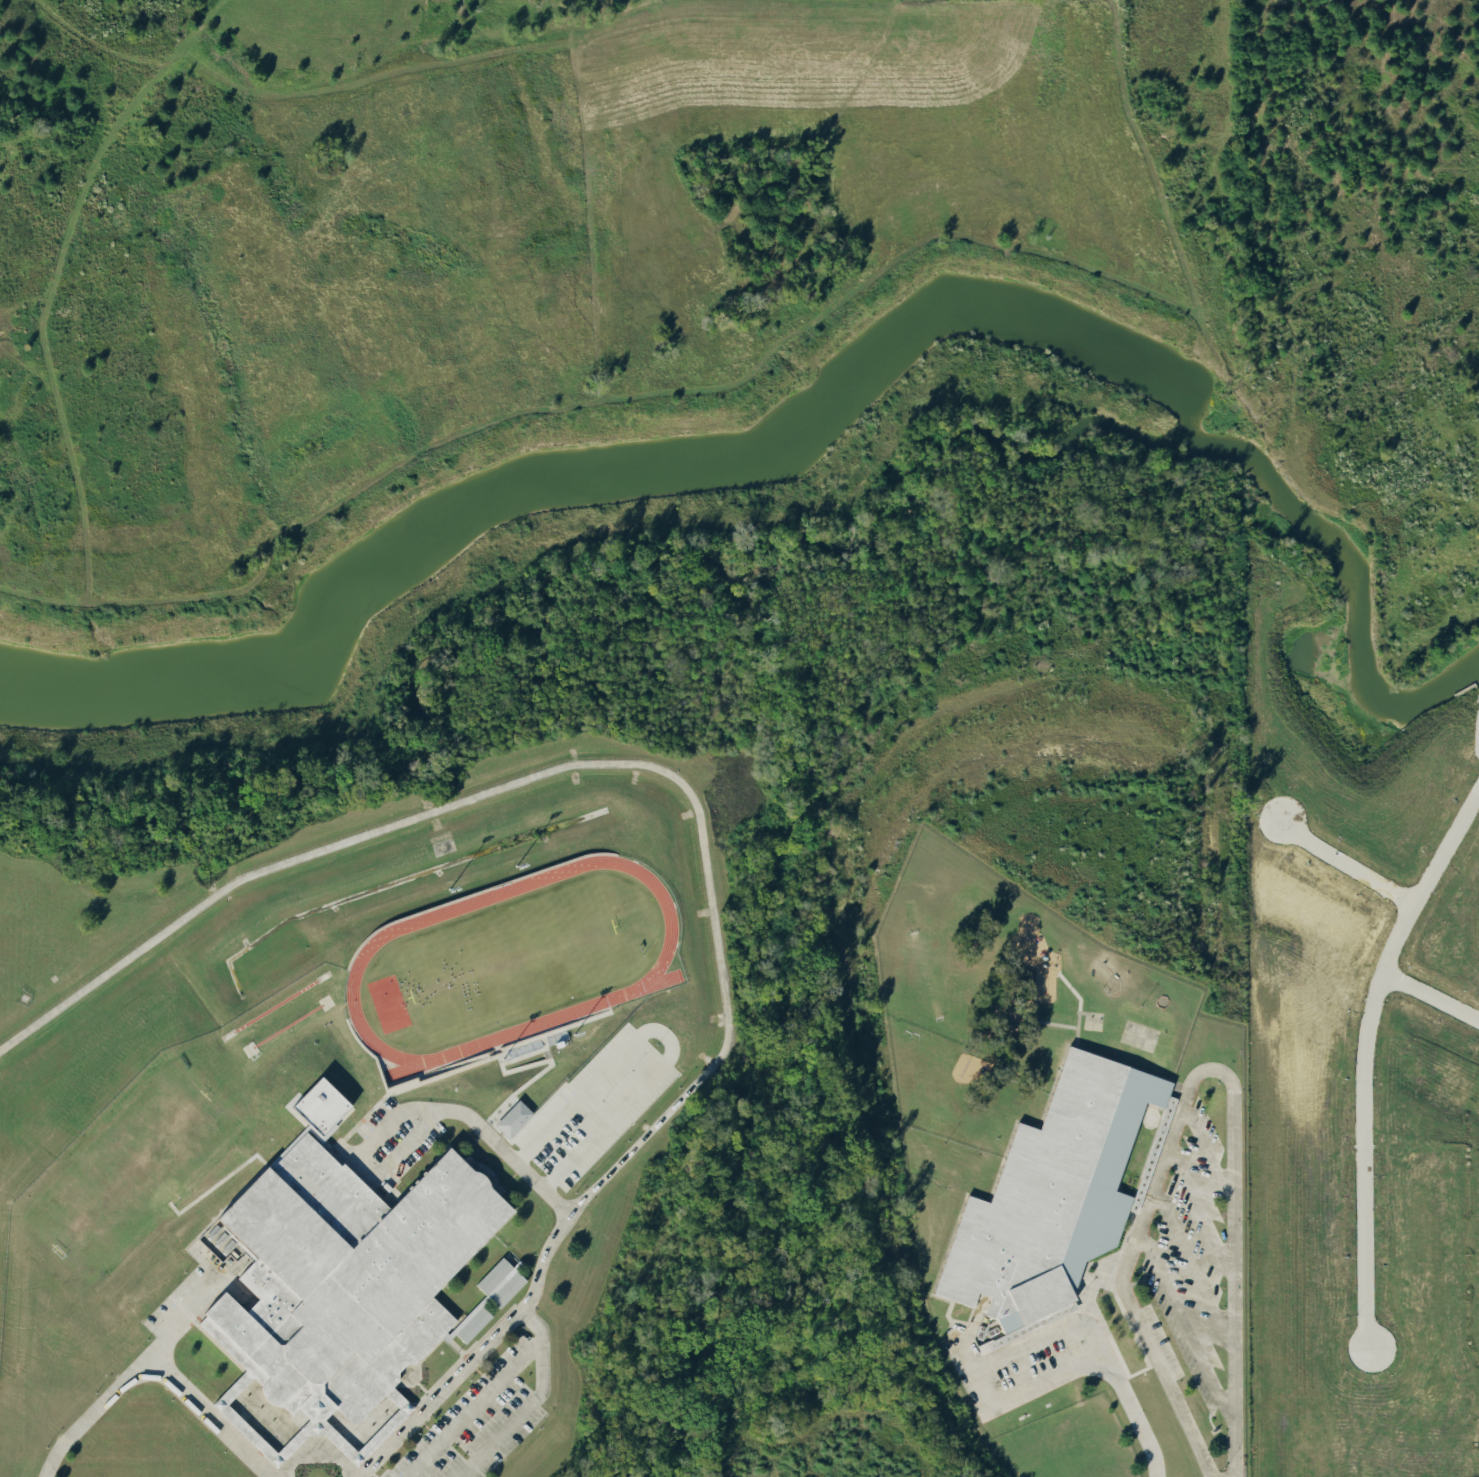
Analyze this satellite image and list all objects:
road: (702, 817)
road: (663, 1036)
building: (314, 1106)
road: (417, 1107)
building: (510, 1117)
road: (1239, 1147)
building: (1048, 1197)
road: (1108, 1279)
building: (339, 1283)
building: (488, 1296)
road: (151, 1366)
road: (981, 1388)
road: (540, 1403)
road: (481, 1411)

